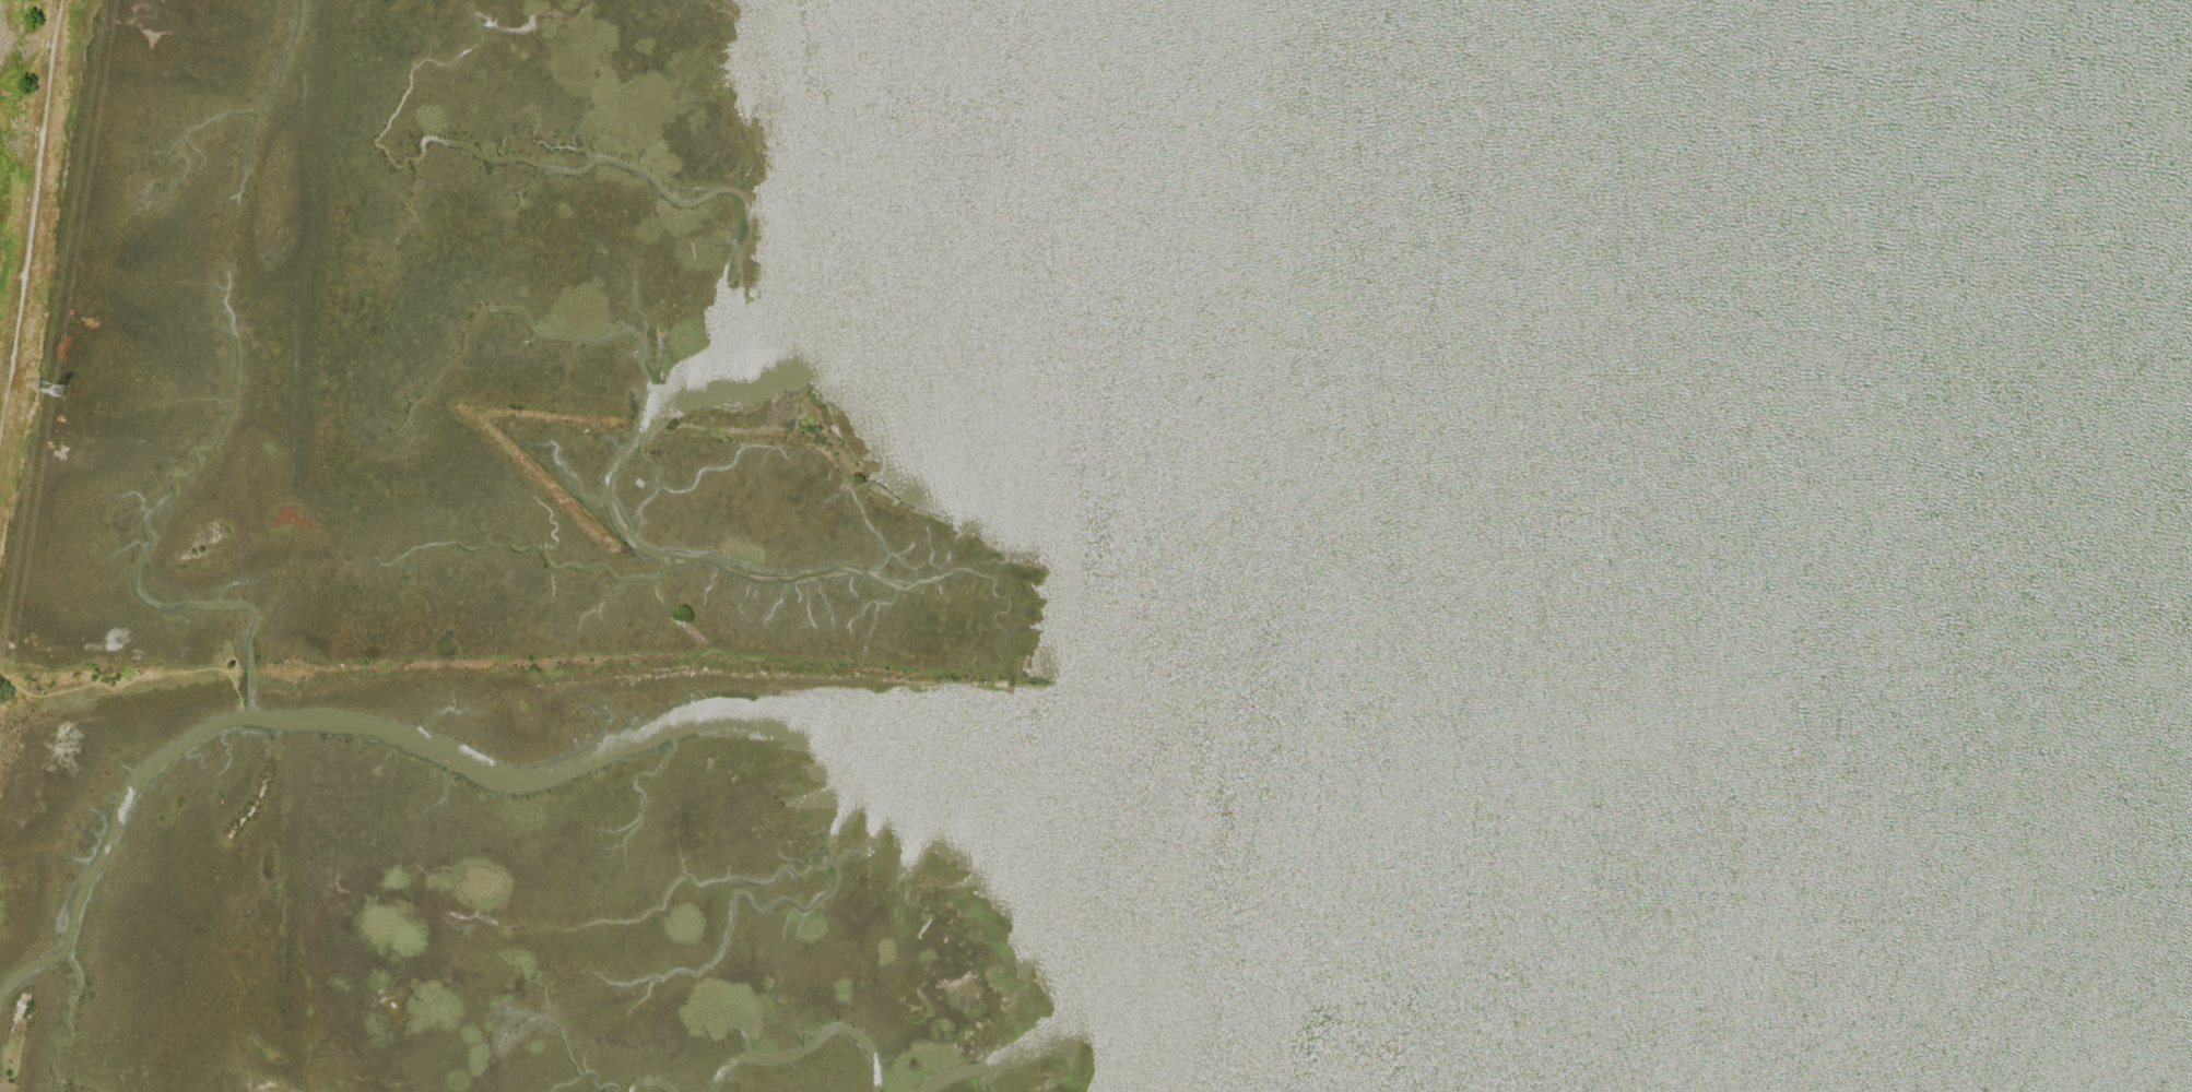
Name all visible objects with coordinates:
road: (33, 214)
power tower: (58, 390)
road: (123, 685)

